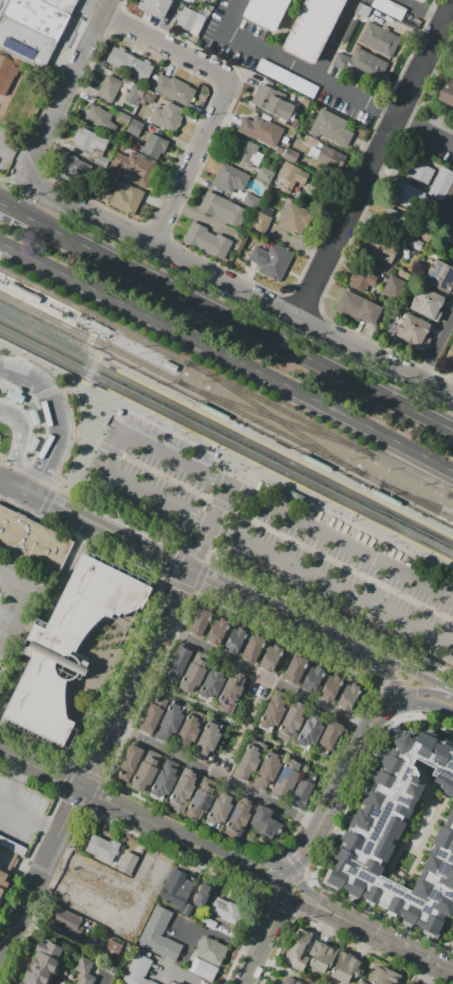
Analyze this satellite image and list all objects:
building: (201, 0)
building: (420, 1)
building: (62, 5)
building: (154, 7)
building: (389, 9)
building: (363, 10)
road: (420, 11)
building: (265, 12)
building: (36, 16)
road: (164, 20)
building: (189, 20)
building: (312, 27)
building: (350, 28)
road: (332, 38)
building: (380, 39)
building: (24, 42)
road: (168, 47)
road: (423, 58)
building: (129, 63)
building: (360, 63)
road: (292, 66)
building: (9, 73)
building: (287, 78)
road: (69, 87)
building: (108, 88)
building: (173, 89)
building: (446, 93)
building: (261, 96)
building: (279, 107)
building: (123, 117)
building: (167, 117)
building: (100, 118)
building: (135, 127)
building: (331, 128)
building: (261, 130)
road: (423, 131)
building: (91, 144)
building: (154, 146)
parking lot: (4, 149)
road: (3, 151)
building: (243, 151)
building: (290, 155)
building: (325, 155)
road: (19, 157)
road: (195, 163)
building: (75, 168)
building: (133, 168)
building: (419, 171)
building: (293, 174)
building: (264, 175)
building: (229, 178)
road: (14, 179)
building: (441, 185)
building: (406, 195)
building: (127, 199)
building: (251, 201)
building: (223, 209)
road: (22, 213)
road: (346, 215)
building: (261, 219)
building: (293, 219)
building: (399, 221)
building: (449, 235)
building: (207, 241)
road: (4, 243)
building: (381, 247)
building: (271, 261)
building: (439, 276)
building: (362, 278)
road: (42, 281)
road: (239, 286)
building: (394, 288)
building: (23, 292)
building: (349, 304)
building: (429, 304)
railway: (33, 309)
building: (369, 311)
railway: (77, 315)
railway: (93, 315)
road: (248, 326)
building: (413, 331)
road: (92, 334)
road: (436, 343)
railway: (124, 354)
road: (230, 356)
building: (452, 357)
road: (108, 360)
building: (168, 367)
railway: (115, 368)
road: (91, 370)
road: (51, 371)
road: (17, 372)
street lamp: (9, 382)
road: (74, 387)
road: (49, 392)
street lamp: (30, 394)
railway: (103, 394)
building: (15, 396)
road: (50, 397)
street lamp: (38, 404)
railway: (279, 408)
building: (213, 412)
building: (33, 417)
railway: (276, 417)
railway: (276, 419)
street lamp: (45, 425)
railway: (272, 428)
street lamp: (9, 429)
railway: (226, 431)
road: (19, 439)
road: (81, 439)
street lamp: (44, 440)
street lamp: (27, 443)
road: (57, 443)
railway: (226, 444)
building: (33, 445)
road: (2, 455)
street lamp: (23, 459)
road: (113, 461)
building: (316, 463)
road: (25, 465)
road: (32, 469)
traffic signals: (44, 474)
railway: (413, 475)
road: (3, 476)
road: (41, 478)
road: (20, 485)
railway: (450, 494)
building: (385, 497)
railway: (408, 497)
railway: (417, 497)
building: (300, 498)
traffic signals: (53, 501)
road: (205, 501)
road: (123, 514)
road: (230, 515)
road: (210, 527)
road: (268, 528)
parking lot: (272, 534)
road: (81, 538)
building: (31, 541)
road: (196, 552)
road: (174, 562)
road: (67, 569)
road: (447, 572)
road: (201, 575)
road: (207, 577)
road: (178, 586)
road: (20, 599)
parking lot: (18, 605)
road: (332, 613)
road: (4, 619)
parking lot: (43, 619)
building: (198, 621)
building: (217, 631)
road: (33, 638)
building: (234, 640)
road: (290, 640)
building: (65, 647)
building: (253, 648)
building: (271, 657)
parking lot: (23, 658)
building: (177, 664)
building: (295, 669)
traffic signals: (416, 674)
road: (417, 674)
building: (193, 676)
road: (265, 676)
road: (390, 676)
building: (312, 679)
traffic signals: (392, 679)
road: (406, 681)
road: (11, 682)
building: (211, 684)
building: (331, 687)
traffic signals: (416, 691)
road: (427, 691)
building: (230, 694)
building: (349, 697)
road: (405, 698)
road: (377, 704)
road: (389, 704)
road: (431, 705)
traffic signals: (389, 712)
road: (386, 713)
building: (153, 714)
building: (271, 714)
road: (415, 715)
building: (171, 719)
building: (292, 722)
road: (240, 726)
building: (190, 727)
road: (244, 727)
building: (309, 732)
building: (209, 735)
building: (329, 735)
building: (248, 759)
road: (96, 760)
building: (129, 761)
road: (346, 766)
building: (269, 769)
road: (17, 774)
road: (214, 774)
building: (144, 775)
building: (288, 776)
building: (164, 783)
road: (4, 785)
building: (182, 791)
building: (301, 793)
road: (99, 796)
building: (199, 803)
road: (1, 804)
building: (218, 811)
road: (24, 812)
building: (238, 818)
building: (265, 822)
park: (412, 828)
road: (305, 833)
building: (368, 836)
road: (318, 843)
building: (101, 847)
traffic signals: (293, 848)
road: (239, 857)
building: (129, 860)
road: (286, 863)
road: (221, 864)
road: (288, 871)
road: (151, 874)
road: (266, 878)
traffic signals: (270, 878)
building: (3, 881)
traffic signals: (300, 882)
traffic signals: (264, 886)
building: (176, 887)
parking lot: (100, 894)
building: (203, 895)
road: (319, 899)
road: (299, 903)
road: (135, 906)
building: (187, 909)
building: (225, 910)
traffic signals: (280, 910)
building: (66, 920)
building: (207, 922)
building: (159, 935)
road: (221, 938)
road: (264, 940)
road: (68, 944)
building: (298, 947)
road: (402, 948)
building: (112, 949)
building: (209, 951)
road: (444, 951)
building: (322, 956)
building: (44, 964)
building: (345, 967)
building: (138, 969)
building: (203, 969)
building: (86, 971)
road: (428, 973)
building: (383, 976)
building: (291, 981)
building: (175, 982)
building: (313, 982)
building: (361, 982)
building: (169, 983)

